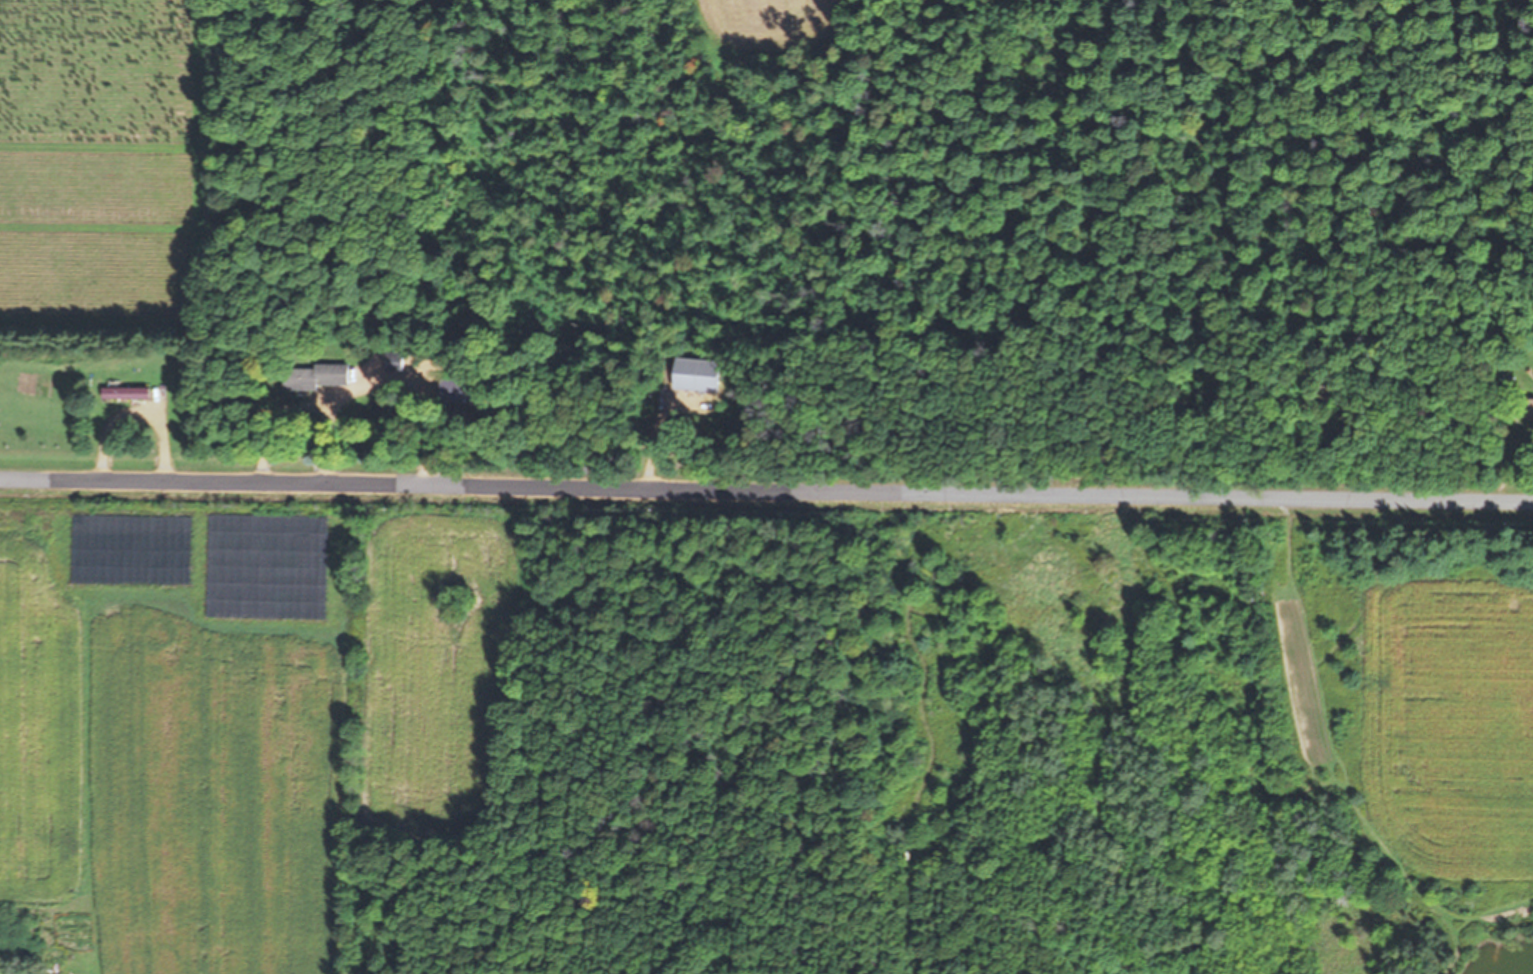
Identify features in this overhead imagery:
building: (394, 362)
building: (686, 375)
building: (318, 376)
building: (128, 392)
road: (766, 489)
crop: (237, 710)

